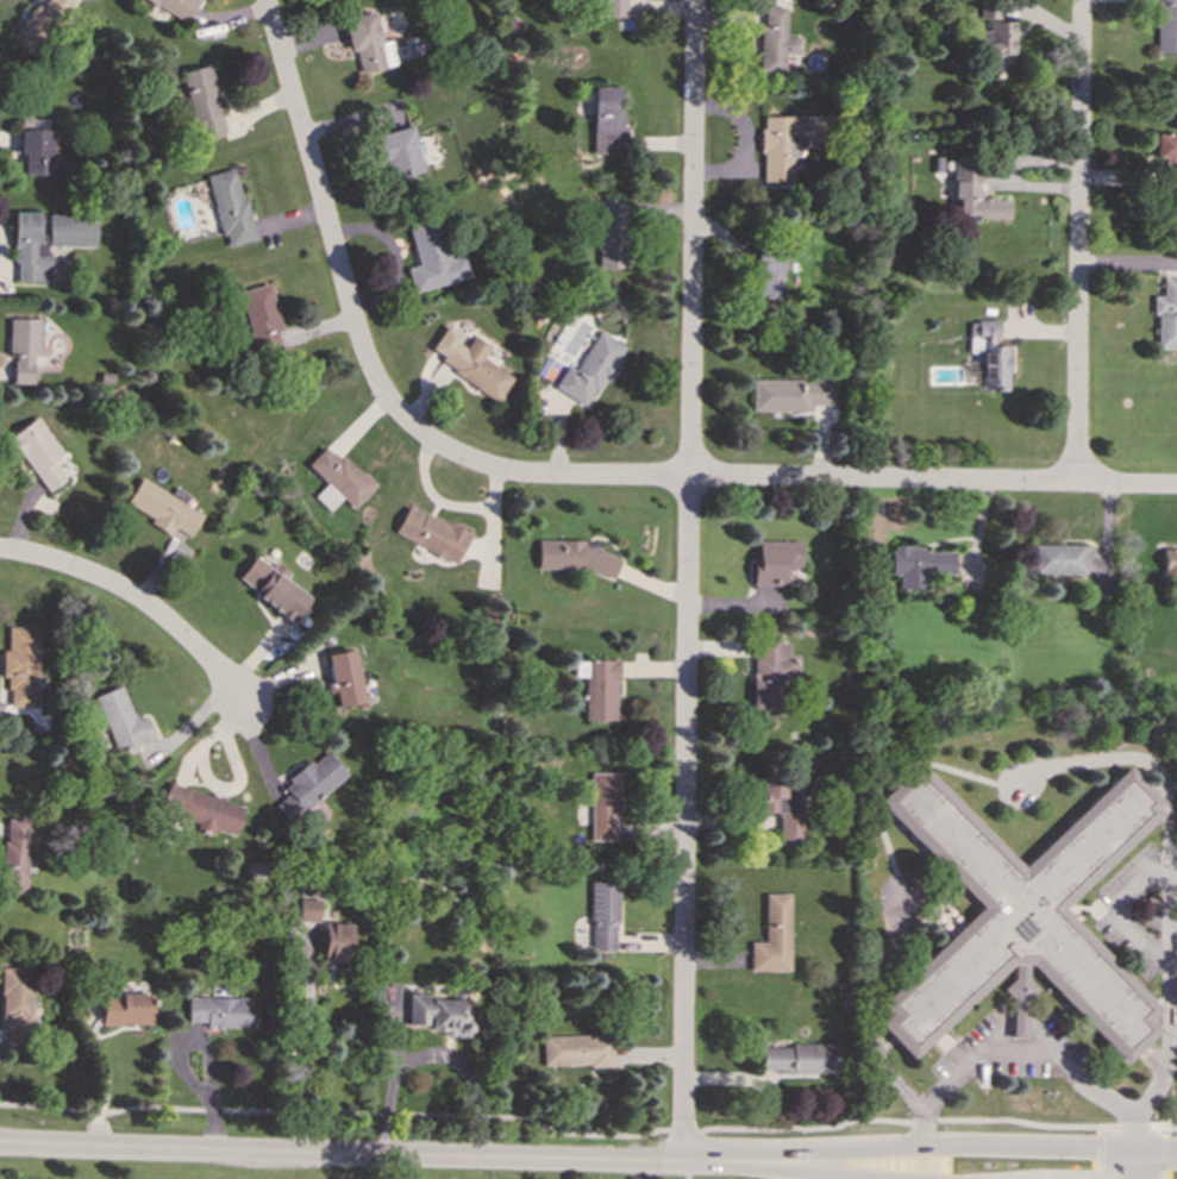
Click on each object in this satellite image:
building: (176, 7)
building: (614, 7)
building: (39, 24)
building: (1166, 26)
building: (775, 39)
building: (368, 44)
building: (996, 46)
building: (201, 101)
building: (608, 120)
building: (787, 143)
building: (37, 151)
building: (399, 152)
building: (1166, 156)
building: (972, 190)
building: (228, 206)
building: (609, 233)
building: (45, 242)
road: (1078, 242)
building: (432, 257)
building: (769, 275)
building: (259, 314)
building: (1166, 314)
building: (21, 349)
building: (990, 353)
road: (365, 358)
building: (468, 360)
building: (590, 369)
building: (791, 394)
building: (38, 452)
building: (340, 476)
road: (934, 481)
building: (163, 509)
building: (431, 533)
building: (575, 556)
building: (1058, 558)
building: (1170, 560)
building: (775, 562)
building: (919, 565)
road: (689, 582)
building: (273, 588)
road: (137, 600)
building: (21, 665)
building: (771, 671)
building: (343, 677)
building: (599, 688)
building: (121, 720)
building: (308, 785)
road: (1160, 799)
building: (603, 804)
building: (778, 804)
building: (200, 808)
building: (13, 859)
building: (308, 910)
building: (605, 916)
building: (1020, 916)
building: (772, 936)
building: (337, 942)
road: (1171, 993)
building: (15, 1008)
building: (125, 1009)
building: (221, 1011)
building: (439, 1014)
road: (1025, 1042)
building: (577, 1051)
road: (303, 1052)
road: (442, 1054)
building: (800, 1059)
road: (1152, 1065)
road: (105, 1085)
road: (909, 1092)
road: (334, 1112)
road: (906, 1121)
road: (1133, 1128)
road: (1165, 1128)
road: (684, 1129)
road: (944, 1148)
road: (1098, 1153)
road: (1164, 1153)
road: (340, 1154)
road: (697, 1164)
road: (1132, 1166)
road: (828, 1167)
road: (781, 1171)
road: (828, 1178)

